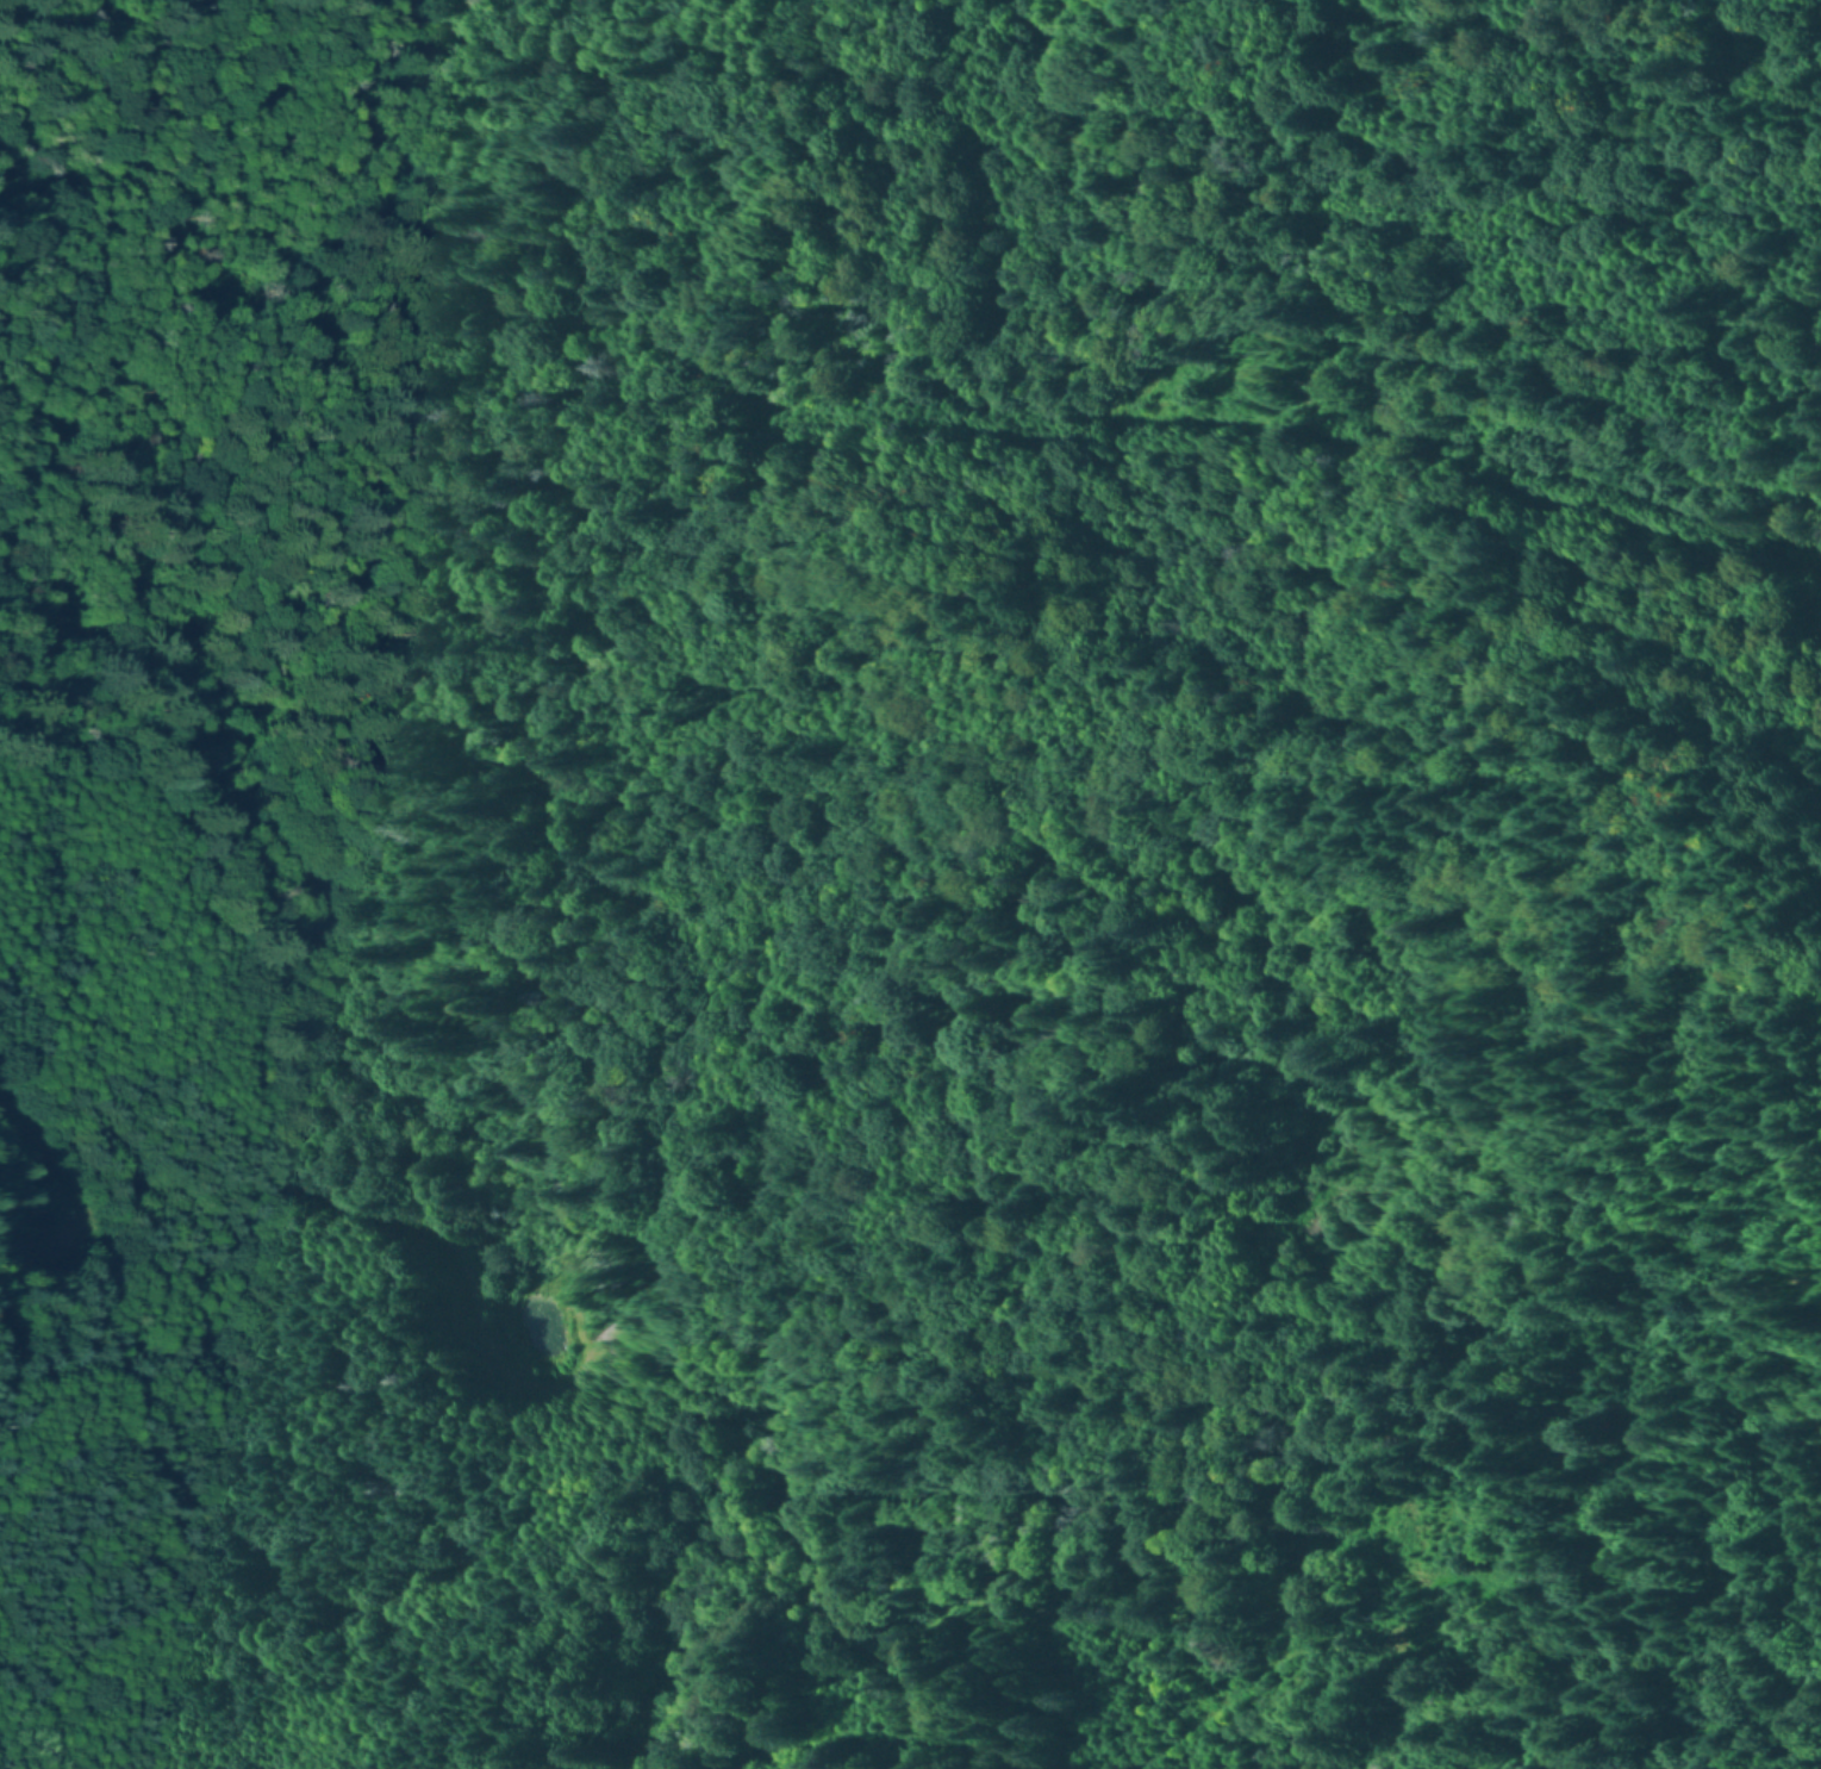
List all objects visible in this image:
road: (1744, 212)
road: (164, 244)
road: (283, 971)
road: (626, 1576)

